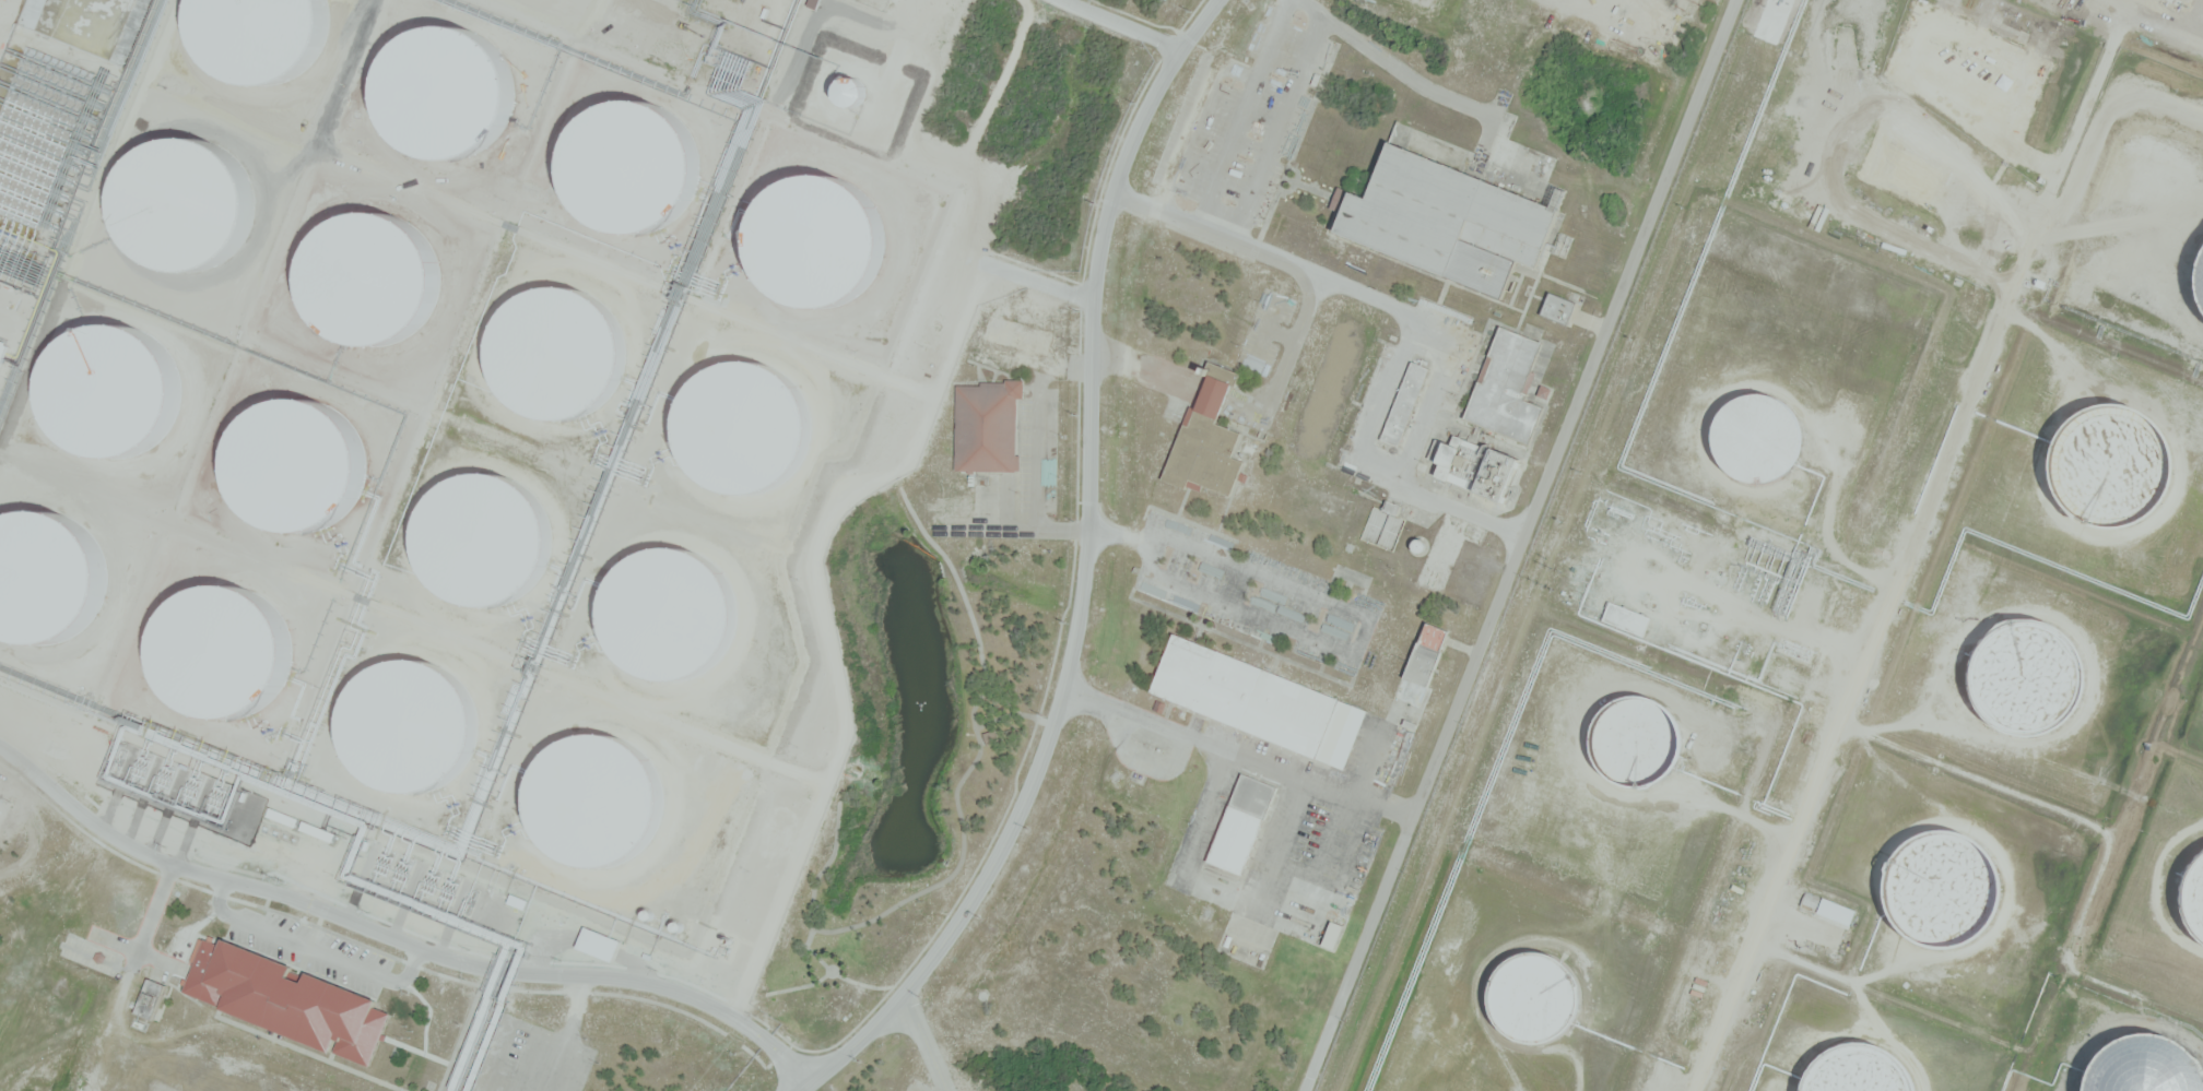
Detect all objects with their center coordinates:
road: (5, 8)
building: (761, 19)
road: (2156, 23)
building: (798, 29)
building: (305, 35)
building: (570, 72)
building: (281, 106)
building: (425, 108)
building: (543, 163)
building: (390, 210)
building: (373, 252)
building: (832, 258)
building: (1465, 280)
building: (404, 303)
building: (1557, 307)
building: (887, 309)
building: (989, 310)
building: (184, 344)
building: (562, 355)
storage tank: (562, 355)
building: (247, 365)
building: (83, 373)
building: (304, 387)
building: (162, 401)
building: (1405, 402)
building: (364, 405)
building: (746, 424)
storage tank: (746, 424)
building: (988, 425)
building: (223, 436)
building: (1207, 439)
building: (1760, 441)
storage tank: (1760, 441)
building: (337, 455)
building: (2112, 466)
storage tank: (2112, 466)
building: (243, 483)
building: (1267, 490)
building: (308, 523)
building: (482, 541)
storage tank: (482, 541)
building: (1418, 545)
storage tank: (1418, 545)
road: (1517, 545)
road: (1083, 576)
building: (676, 616)
storage tank: (676, 616)
building: (168, 617)
building: (1625, 618)
building: (245, 642)
building: (140, 649)
building: (1423, 664)
building: (2028, 680)
storage tank: (2028, 680)
building: (1261, 702)
building: (410, 724)
storage tank: (410, 724)
building: (1637, 742)
storage tank: (1637, 742)
building: (600, 798)
storage tank: (600, 798)
building: (1241, 821)
building: (747, 833)
building: (1942, 887)
storage tank: (1942, 887)
building: (2195, 897)
storage tank: (2195, 897)
building: (1809, 900)
building: (519, 902)
building: (1333, 934)
road: (397, 937)
building: (600, 944)
building: (153, 998)
building: (292, 999)
building: (1535, 999)
storage tank: (1535, 999)
building: (1860, 1070)
storage tank: (1860, 1070)

